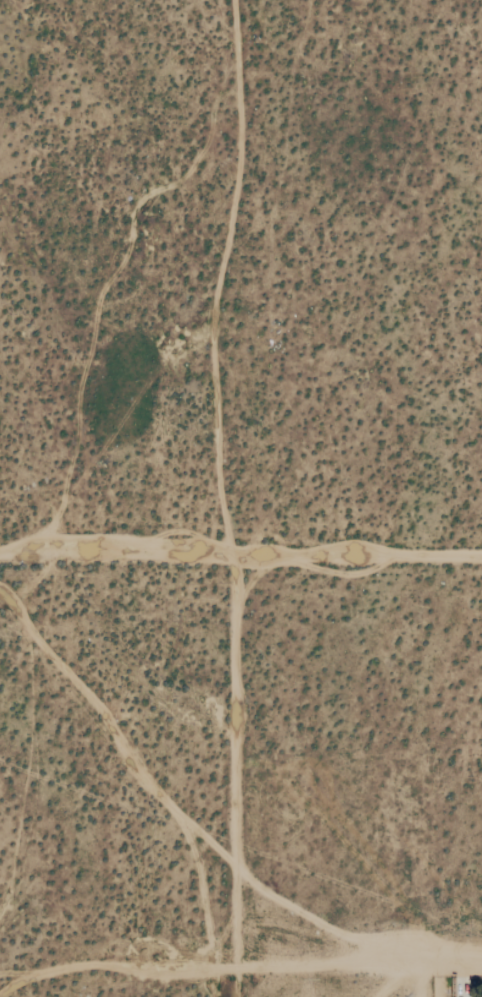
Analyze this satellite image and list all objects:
road: (240, 557)
road: (237, 776)
road: (438, 959)

